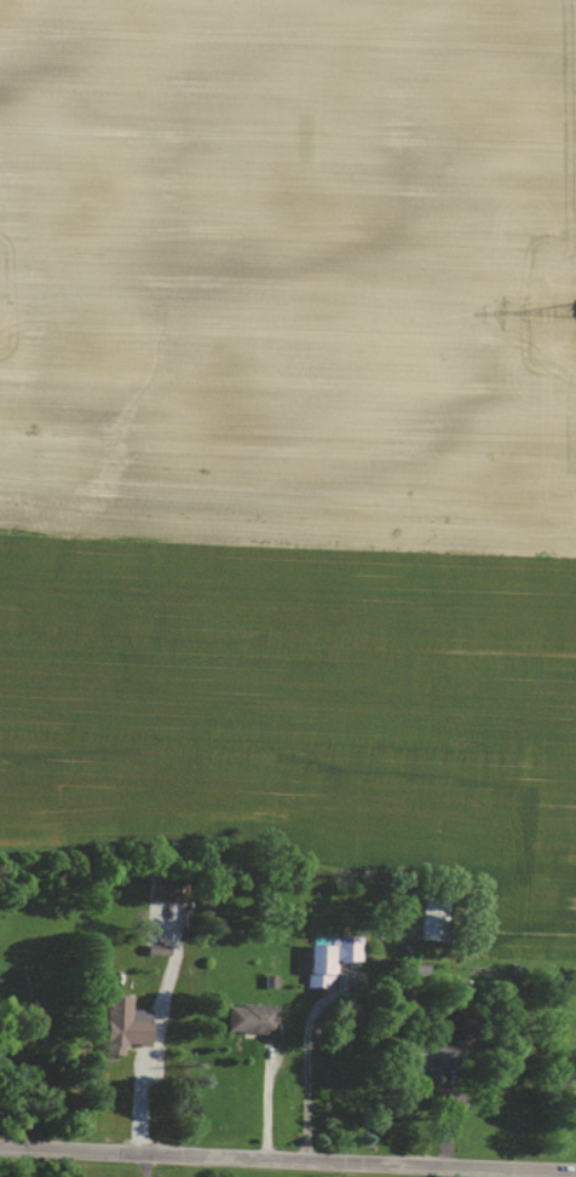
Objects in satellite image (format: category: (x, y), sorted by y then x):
building: (163, 887)
building: (434, 919)
building: (351, 947)
building: (319, 964)
building: (252, 1017)
road: (310, 1021)
building: (128, 1022)
building: (431, 1052)
road: (288, 1154)
road: (144, 1162)
road: (455, 1169)

